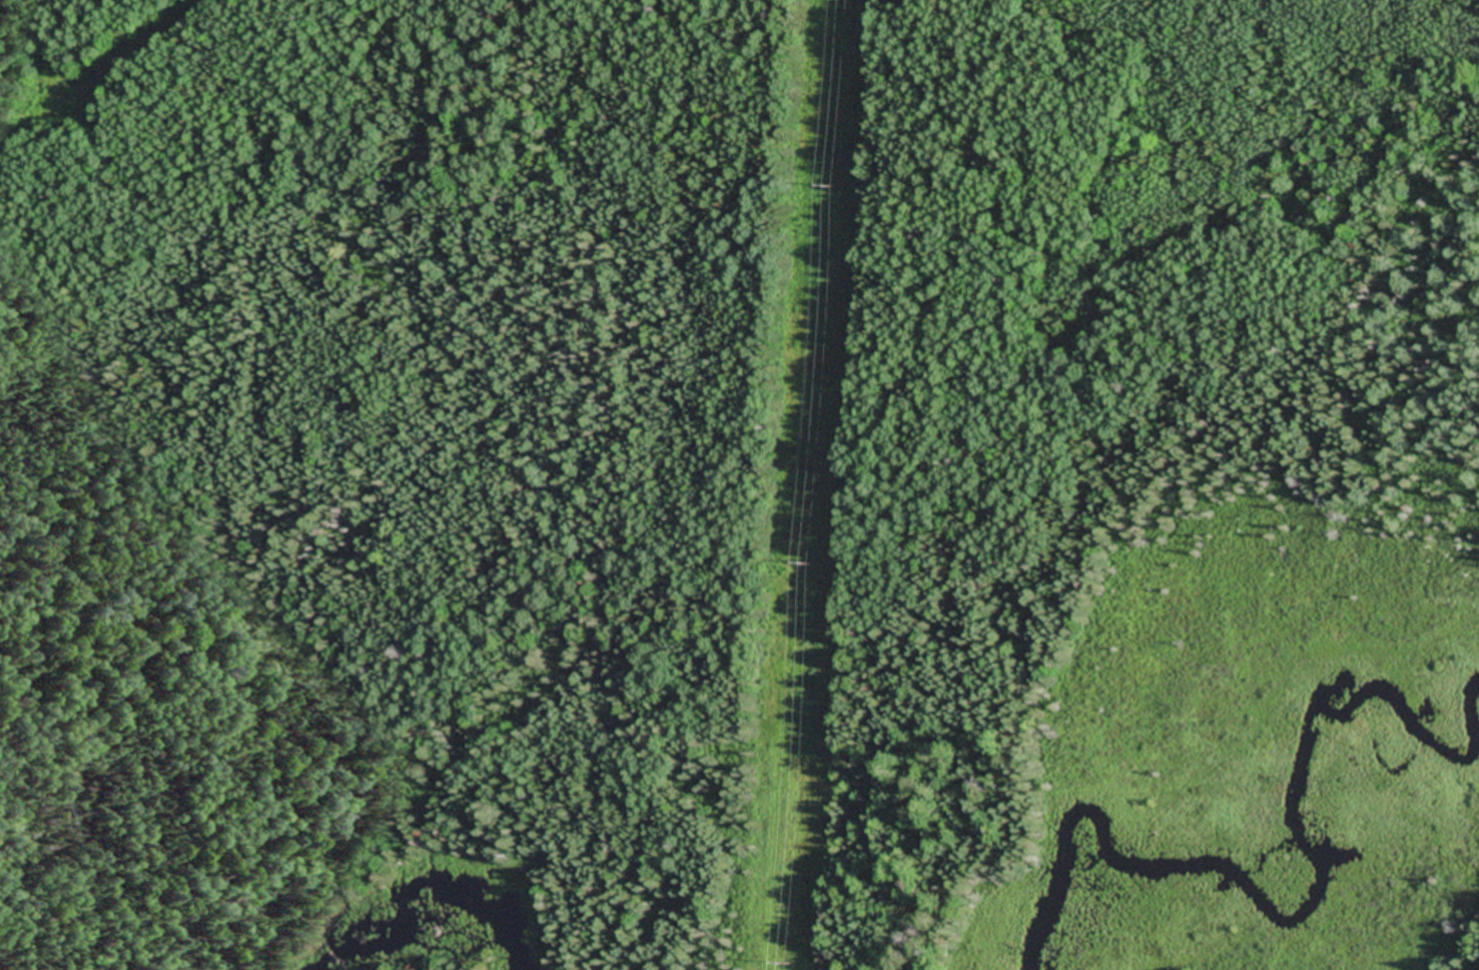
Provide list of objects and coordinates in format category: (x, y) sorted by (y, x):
road: (99, 68)
power tower: (831, 186)
power tower: (809, 566)
power tower: (787, 966)

